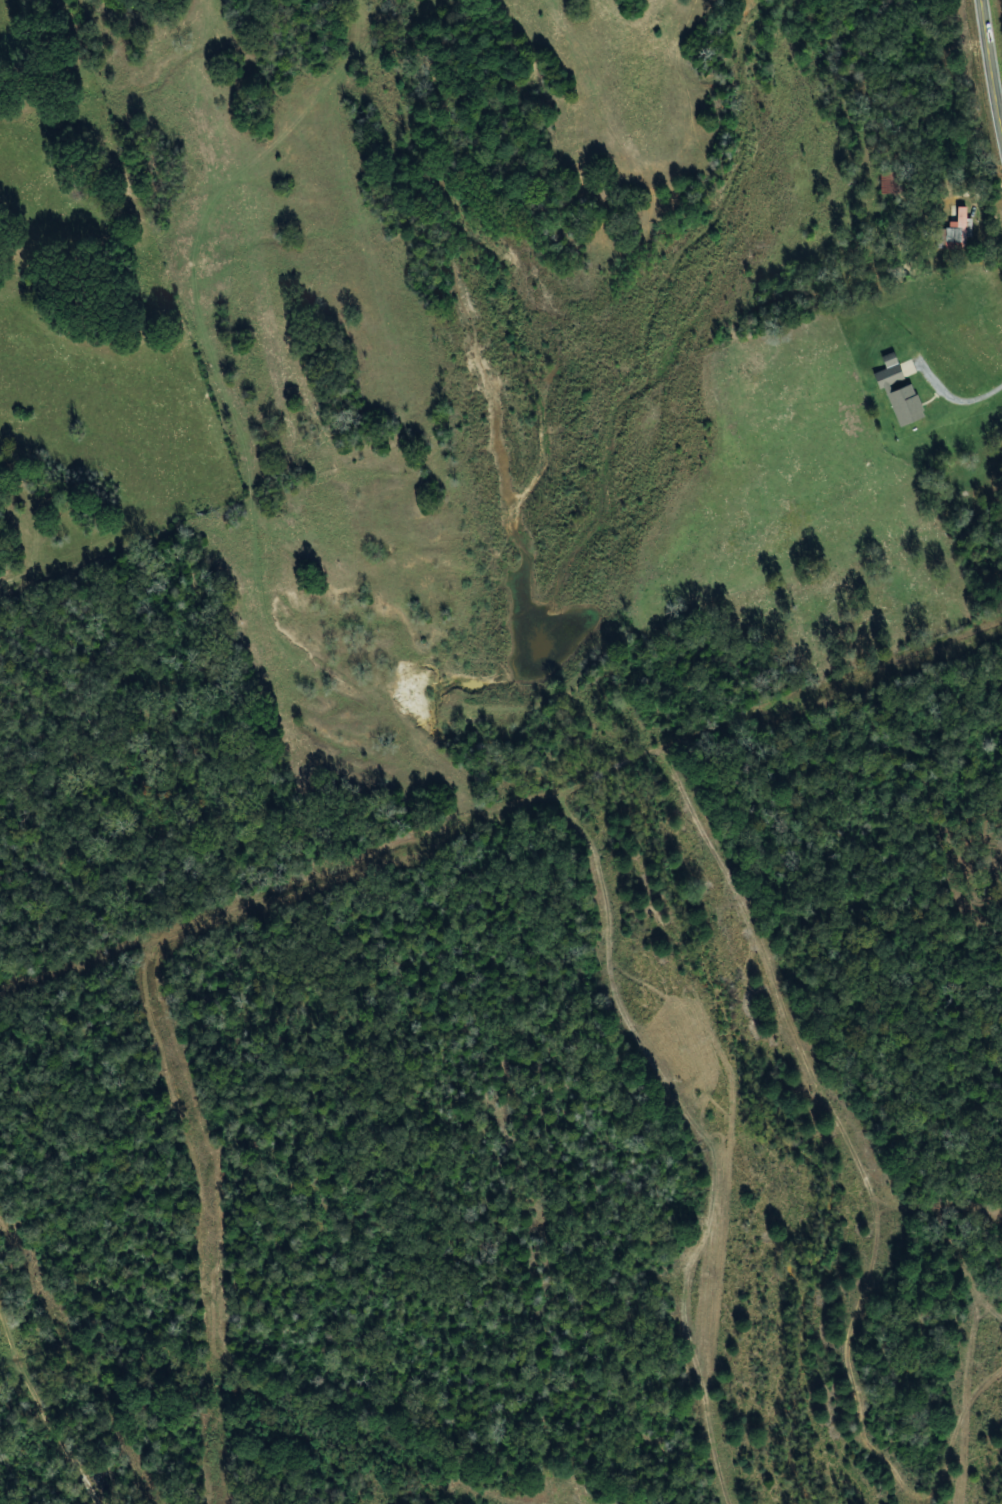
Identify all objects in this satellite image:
road: (990, 66)
building: (962, 227)
building: (902, 394)

